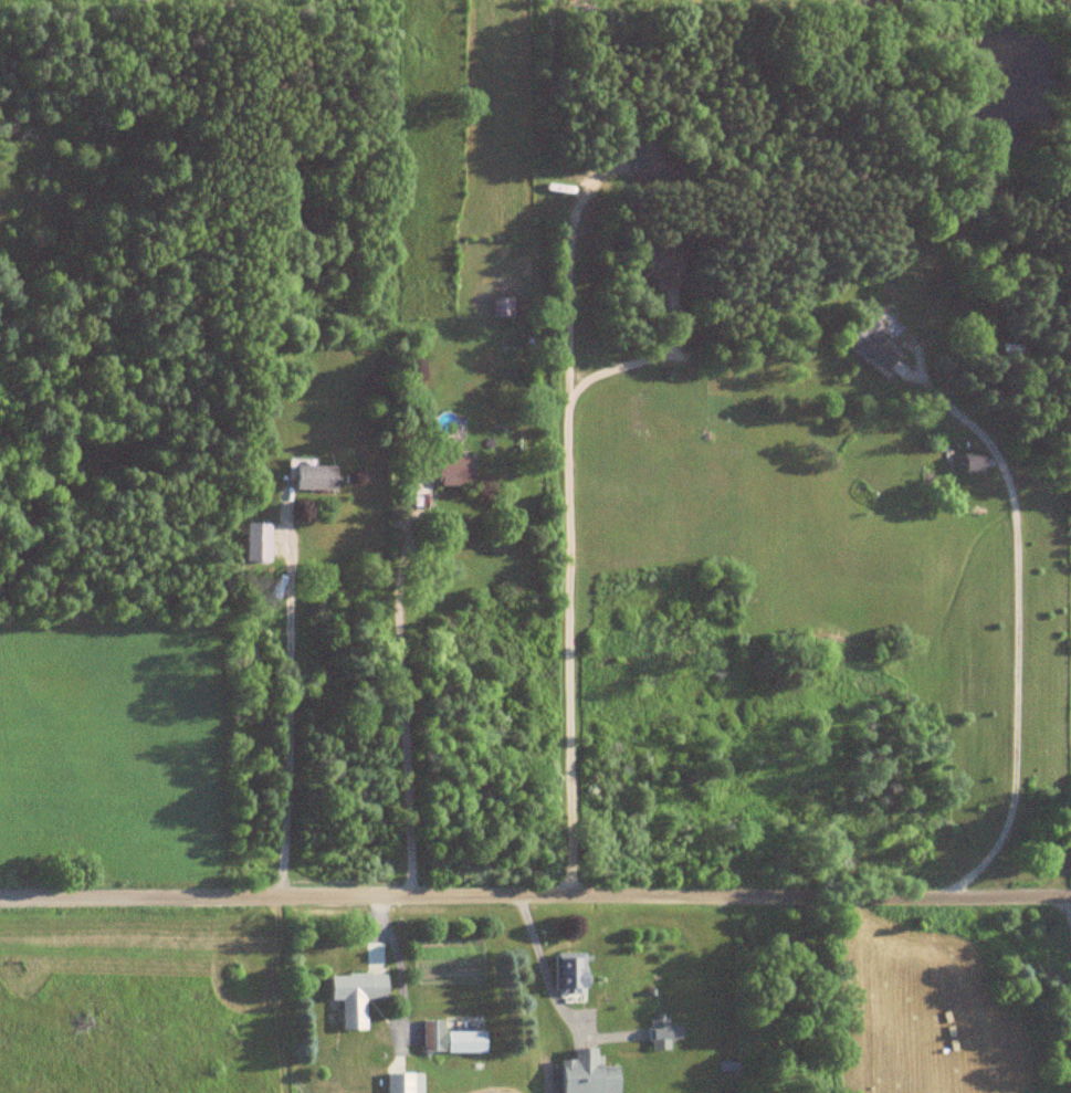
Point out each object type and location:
building: (644, 149)
building: (662, 267)
building: (501, 307)
building: (869, 345)
road: (622, 365)
building: (969, 464)
building: (442, 470)
building: (307, 476)
building: (254, 543)
road: (566, 549)
road: (1012, 641)
road: (402, 705)
road: (288, 731)
road: (535, 900)
road: (1068, 922)
road: (540, 974)
building: (567, 976)
road: (401, 977)
building: (354, 989)
building: (661, 1032)
building: (448, 1040)
building: (585, 1075)
building: (401, 1083)

